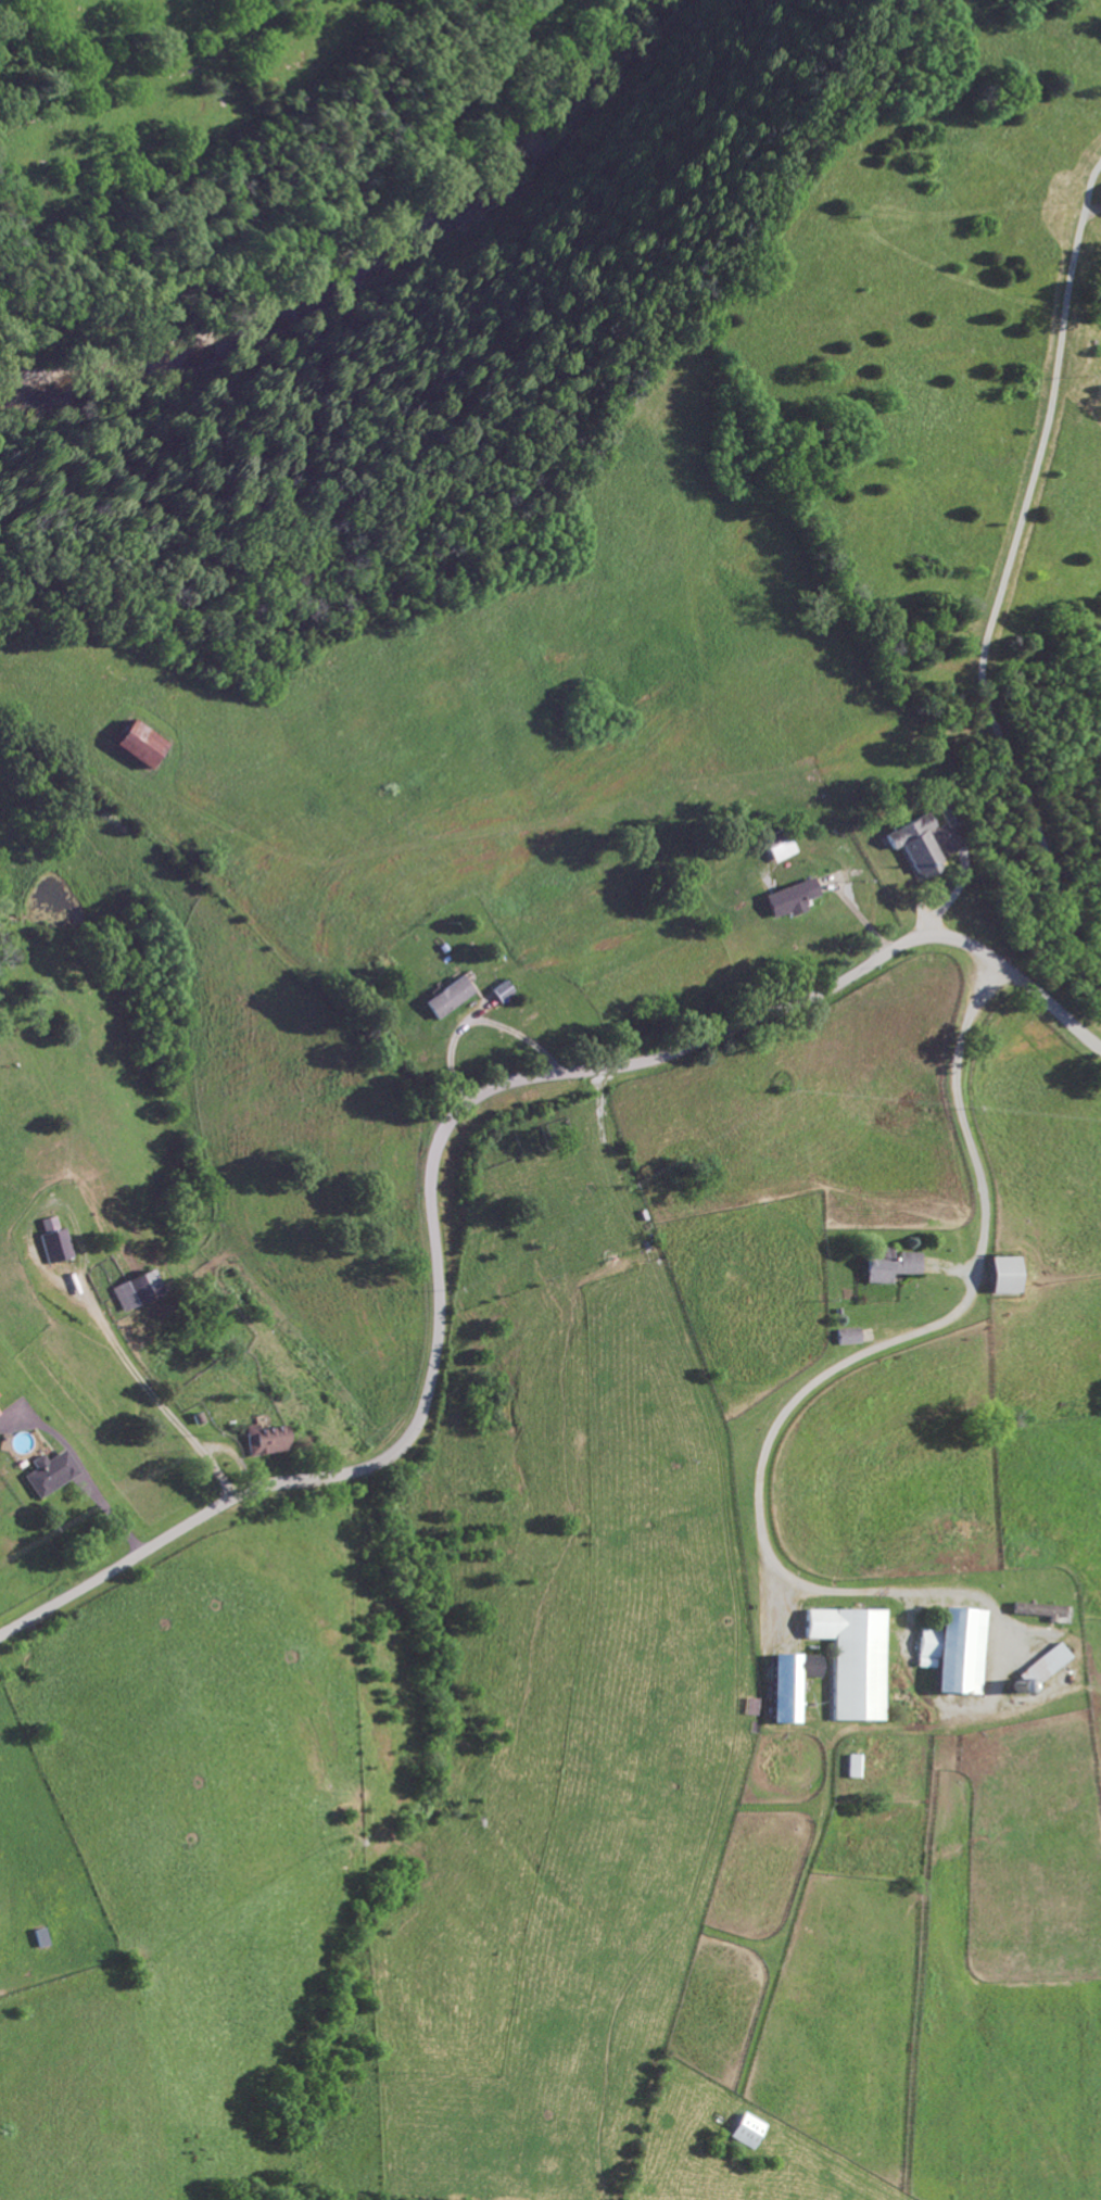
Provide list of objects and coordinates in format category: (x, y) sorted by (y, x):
building: (1100, 189)
river: (366, 258)
road: (1008, 571)
building: (132, 744)
building: (912, 845)
building: (787, 899)
building: (446, 998)
road: (476, 1023)
road: (436, 1145)
building: (56, 1246)
building: (885, 1265)
building: (997, 1276)
building: (132, 1291)
road: (90, 1302)
building: (846, 1337)
road: (864, 1350)
building: (264, 1440)
road: (235, 1456)
building: (48, 1474)
road: (85, 1474)
building: (1036, 1609)
building: (951, 1651)
building: (850, 1659)
building: (1034, 1670)
building: (786, 1683)
building: (743, 2131)

